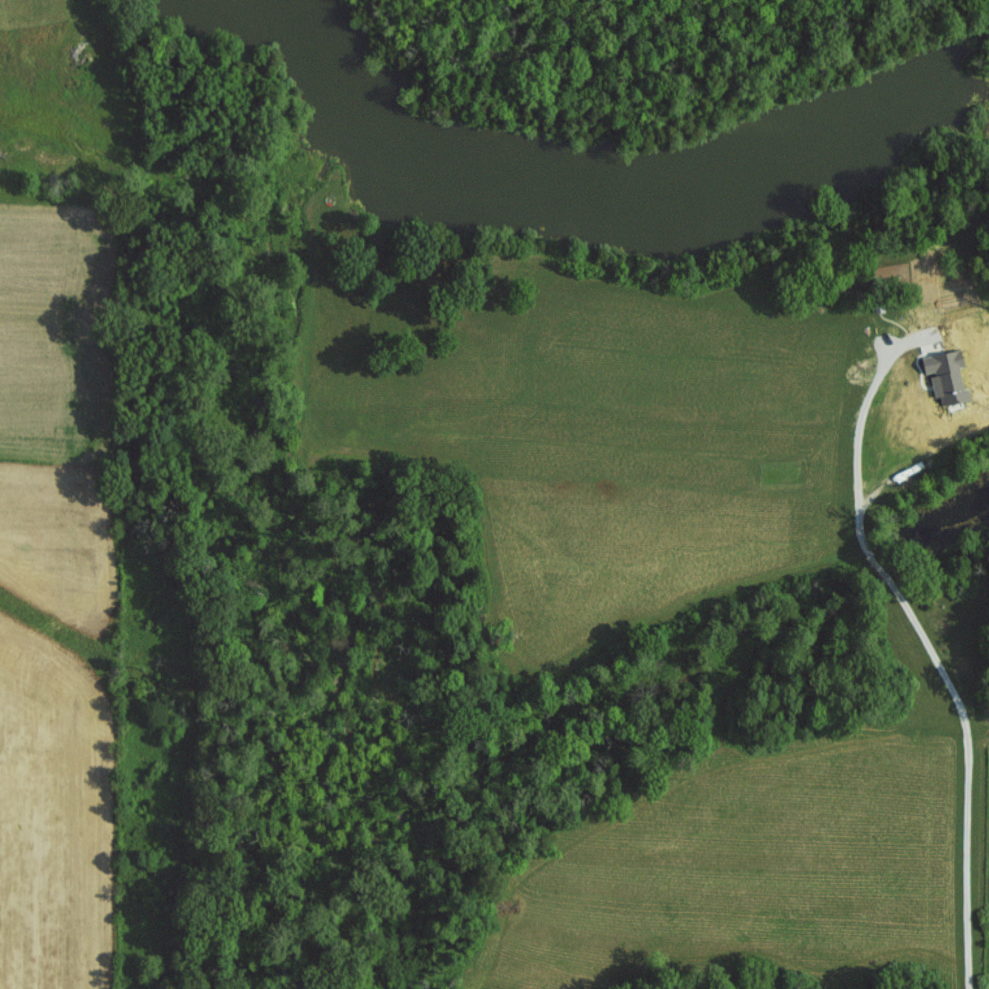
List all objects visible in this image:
building: (943, 375)
road: (938, 657)

